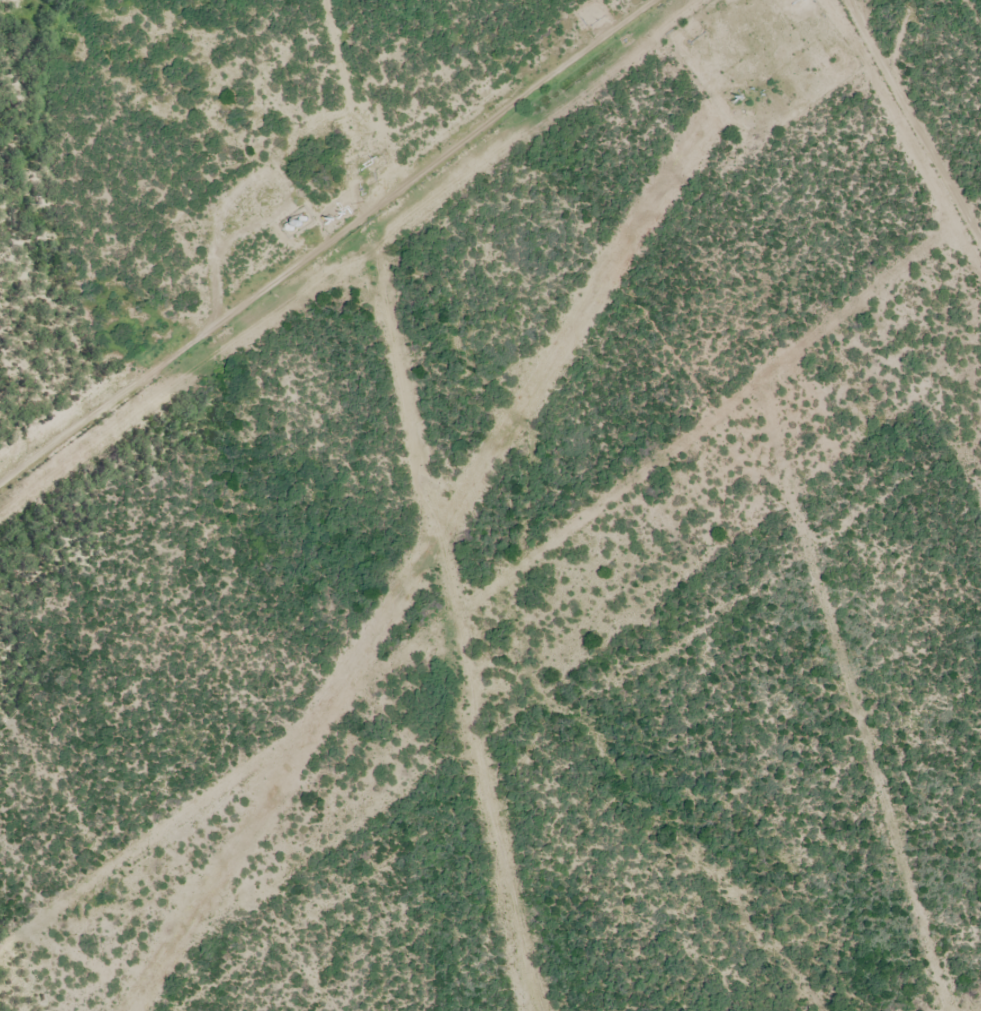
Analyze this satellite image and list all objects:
road: (435, 423)

